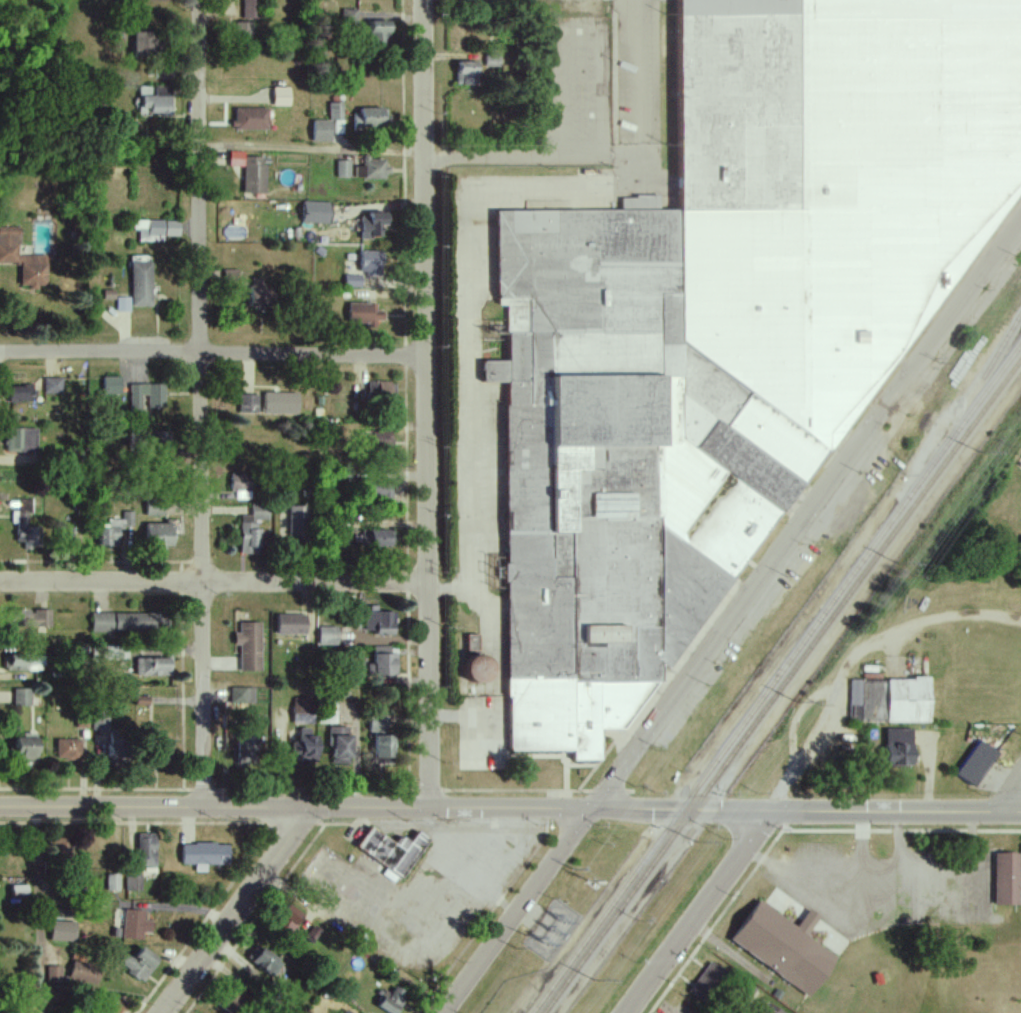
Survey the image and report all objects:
building: (152, 0)
building: (250, 9)
building: (350, 16)
building: (243, 31)
building: (381, 31)
building: (145, 43)
building: (493, 60)
building: (467, 73)
building: (281, 96)
building: (156, 101)
building: (335, 111)
building: (251, 118)
building: (370, 118)
building: (322, 131)
road: (532, 156)
building: (343, 169)
building: (371, 169)
building: (251, 171)
building: (316, 212)
building: (373, 225)
building: (157, 229)
building: (22, 259)
building: (371, 262)
building: (230, 276)
building: (353, 280)
building: (141, 284)
building: (262, 296)
building: (122, 304)
building: (365, 313)
building: (724, 327)
road: (214, 352)
building: (112, 385)
building: (53, 386)
building: (381, 390)
building: (20, 394)
railway: (969, 398)
building: (156, 401)
road: (200, 403)
building: (248, 403)
building: (281, 403)
road: (428, 403)
building: (21, 440)
building: (382, 440)
building: (241, 486)
building: (379, 491)
building: (154, 510)
building: (298, 524)
building: (252, 529)
building: (114, 530)
building: (159, 535)
building: (64, 536)
building: (377, 538)
building: (1018, 550)
road: (214, 581)
road: (731, 618)
building: (30, 619)
building: (124, 622)
building: (380, 623)
building: (291, 624)
building: (328, 636)
building: (472, 643)
building: (249, 646)
building: (116, 653)
building: (24, 662)
building: (383, 662)
building: (153, 667)
building: (479, 670)
railway: (777, 679)
railway: (783, 687)
building: (241, 695)
building: (22, 697)
building: (889, 701)
building: (303, 711)
building: (327, 713)
building: (100, 721)
building: (378, 725)
building: (117, 745)
building: (306, 746)
building: (340, 747)
building: (898, 747)
building: (26, 749)
building: (68, 749)
building: (247, 750)
building: (384, 750)
building: (976, 764)
road: (1008, 790)
road: (510, 807)
building: (60, 847)
road: (899, 847)
road: (862, 848)
building: (146, 850)
building: (391, 851)
building: (204, 855)
building: (1005, 879)
building: (132, 881)
building: (113, 882)
road: (885, 887)
building: (19, 891)
road: (37, 909)
road: (234, 909)
road: (701, 910)
building: (289, 917)
building: (135, 924)
building: (63, 931)
building: (312, 934)
building: (786, 947)
building: (265, 959)
building: (139, 963)
building: (85, 972)
building: (53, 974)
park: (990, 977)
building: (707, 981)
building: (233, 999)
building: (392, 1000)
building: (115, 1004)
building: (772, 1010)
building: (346, 1011)

